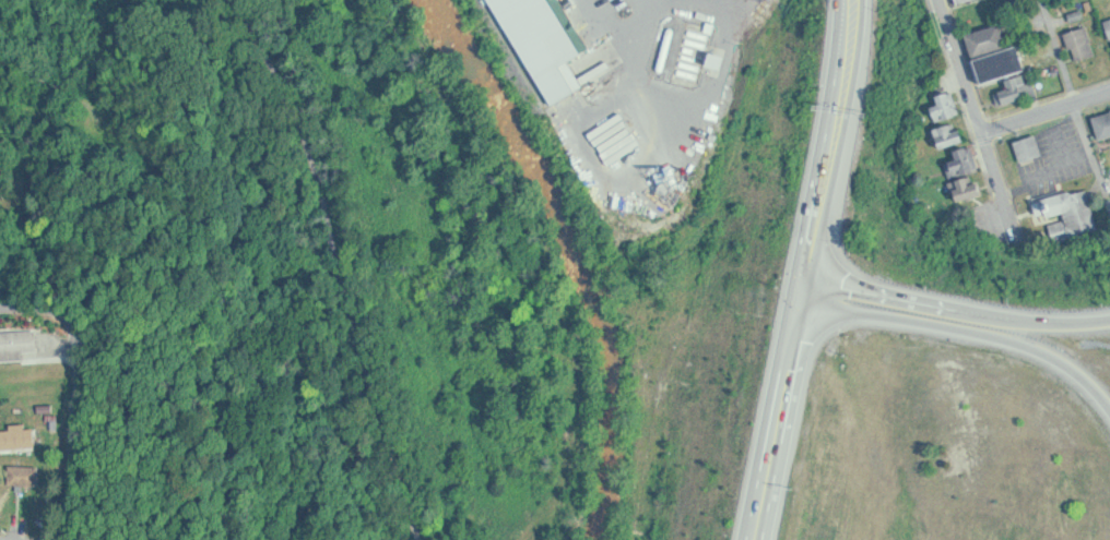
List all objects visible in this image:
building: (961, 1)
parking lot: (627, 20)
building: (1109, 21)
building: (989, 38)
building: (565, 43)
building: (1084, 43)
building: (1002, 63)
road: (45, 80)
building: (1019, 89)
road: (1077, 97)
building: (949, 105)
road: (1048, 115)
road: (981, 120)
building: (1105, 124)
building: (952, 134)
building: (1032, 147)
building: (966, 159)
building: (969, 187)
building: (1072, 203)
parking lot: (991, 227)
river: (575, 255)
road: (341, 263)
road: (814, 271)
traffic signals: (811, 292)
road: (959, 311)
road: (967, 332)
building: (17, 345)
road: (84, 392)
building: (19, 439)
building: (26, 476)

